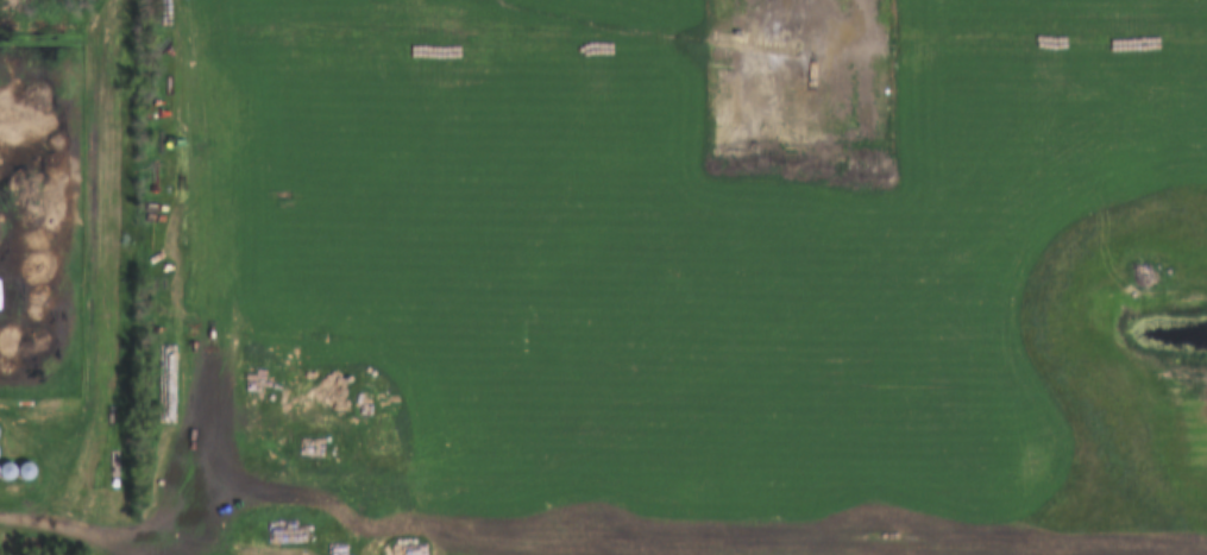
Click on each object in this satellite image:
road: (174, 338)

